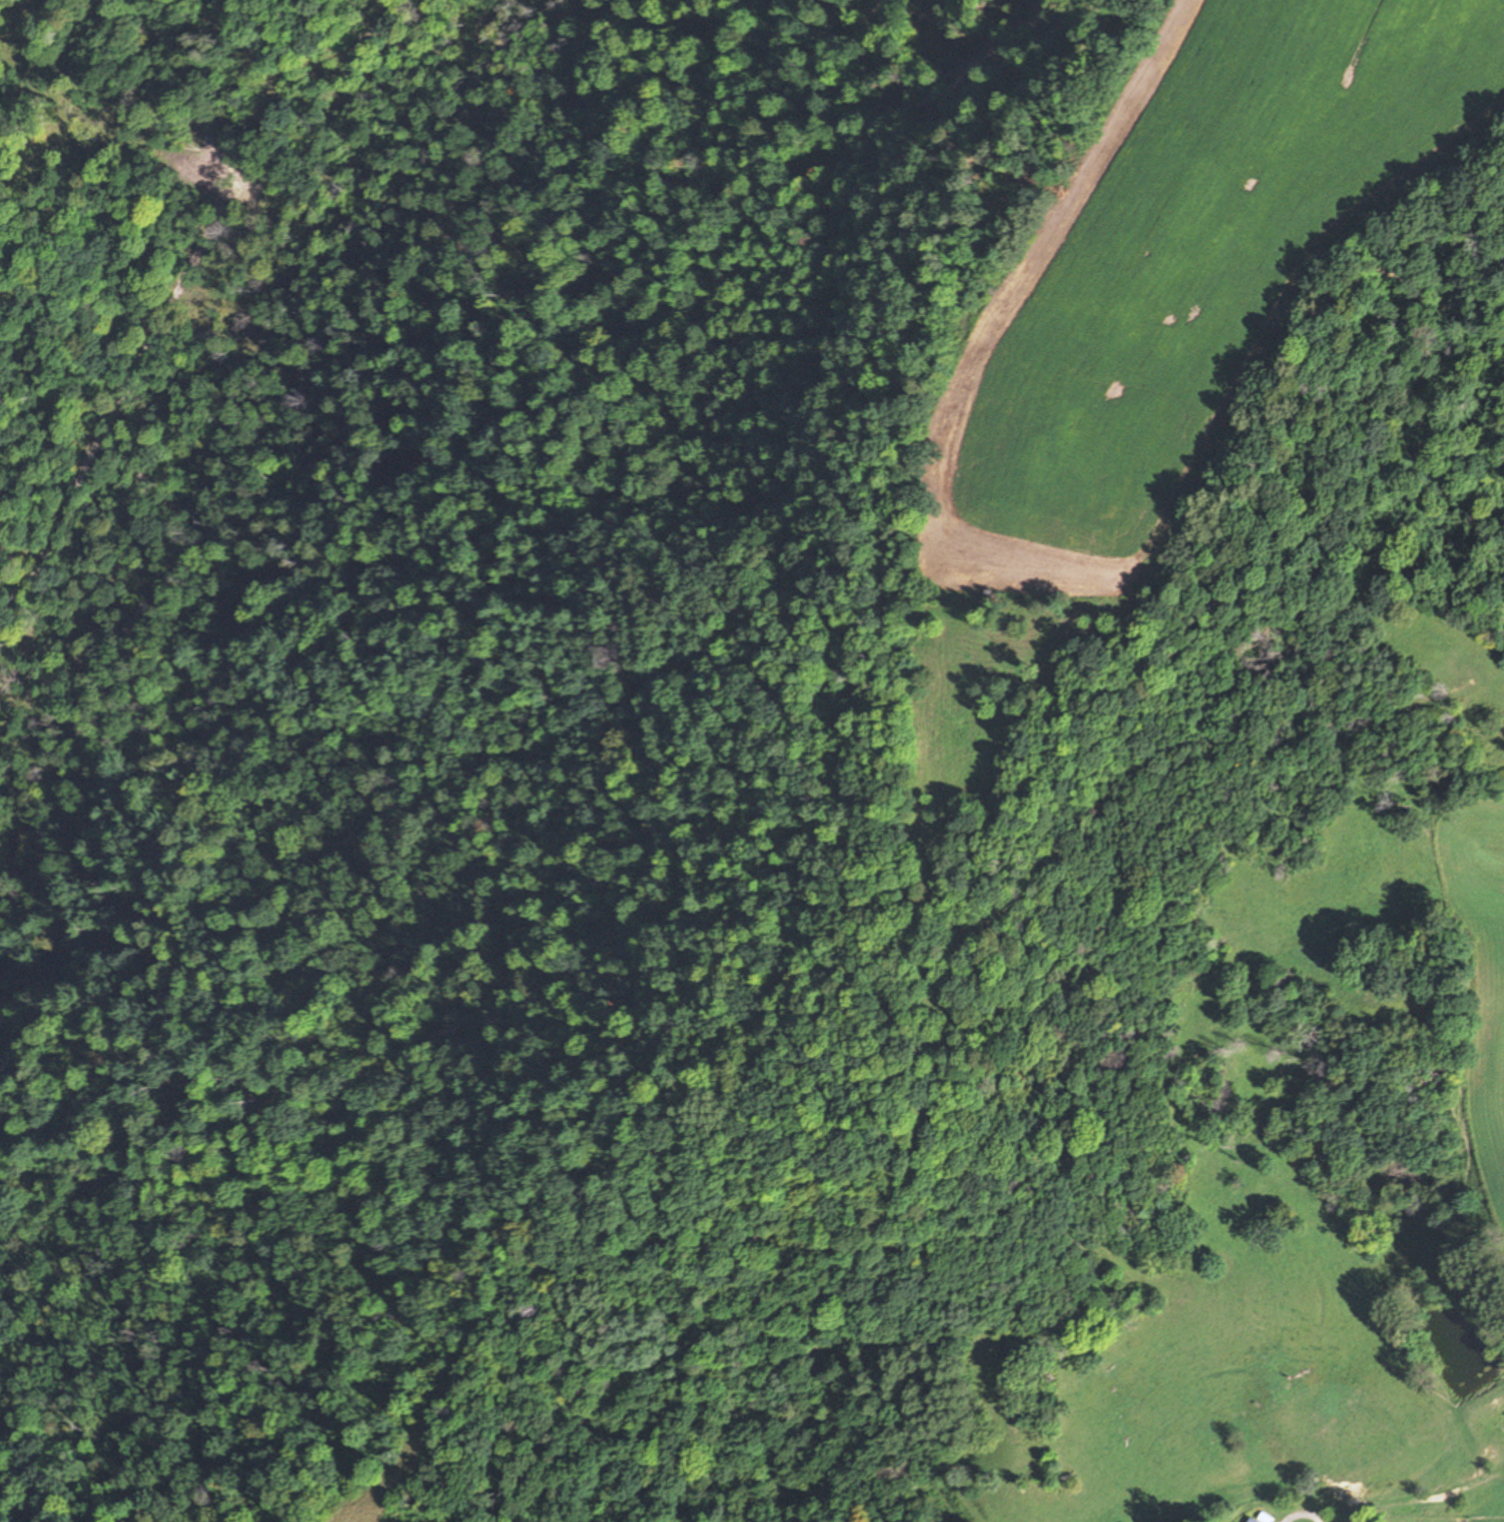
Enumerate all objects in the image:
building: (1256, 1520)

